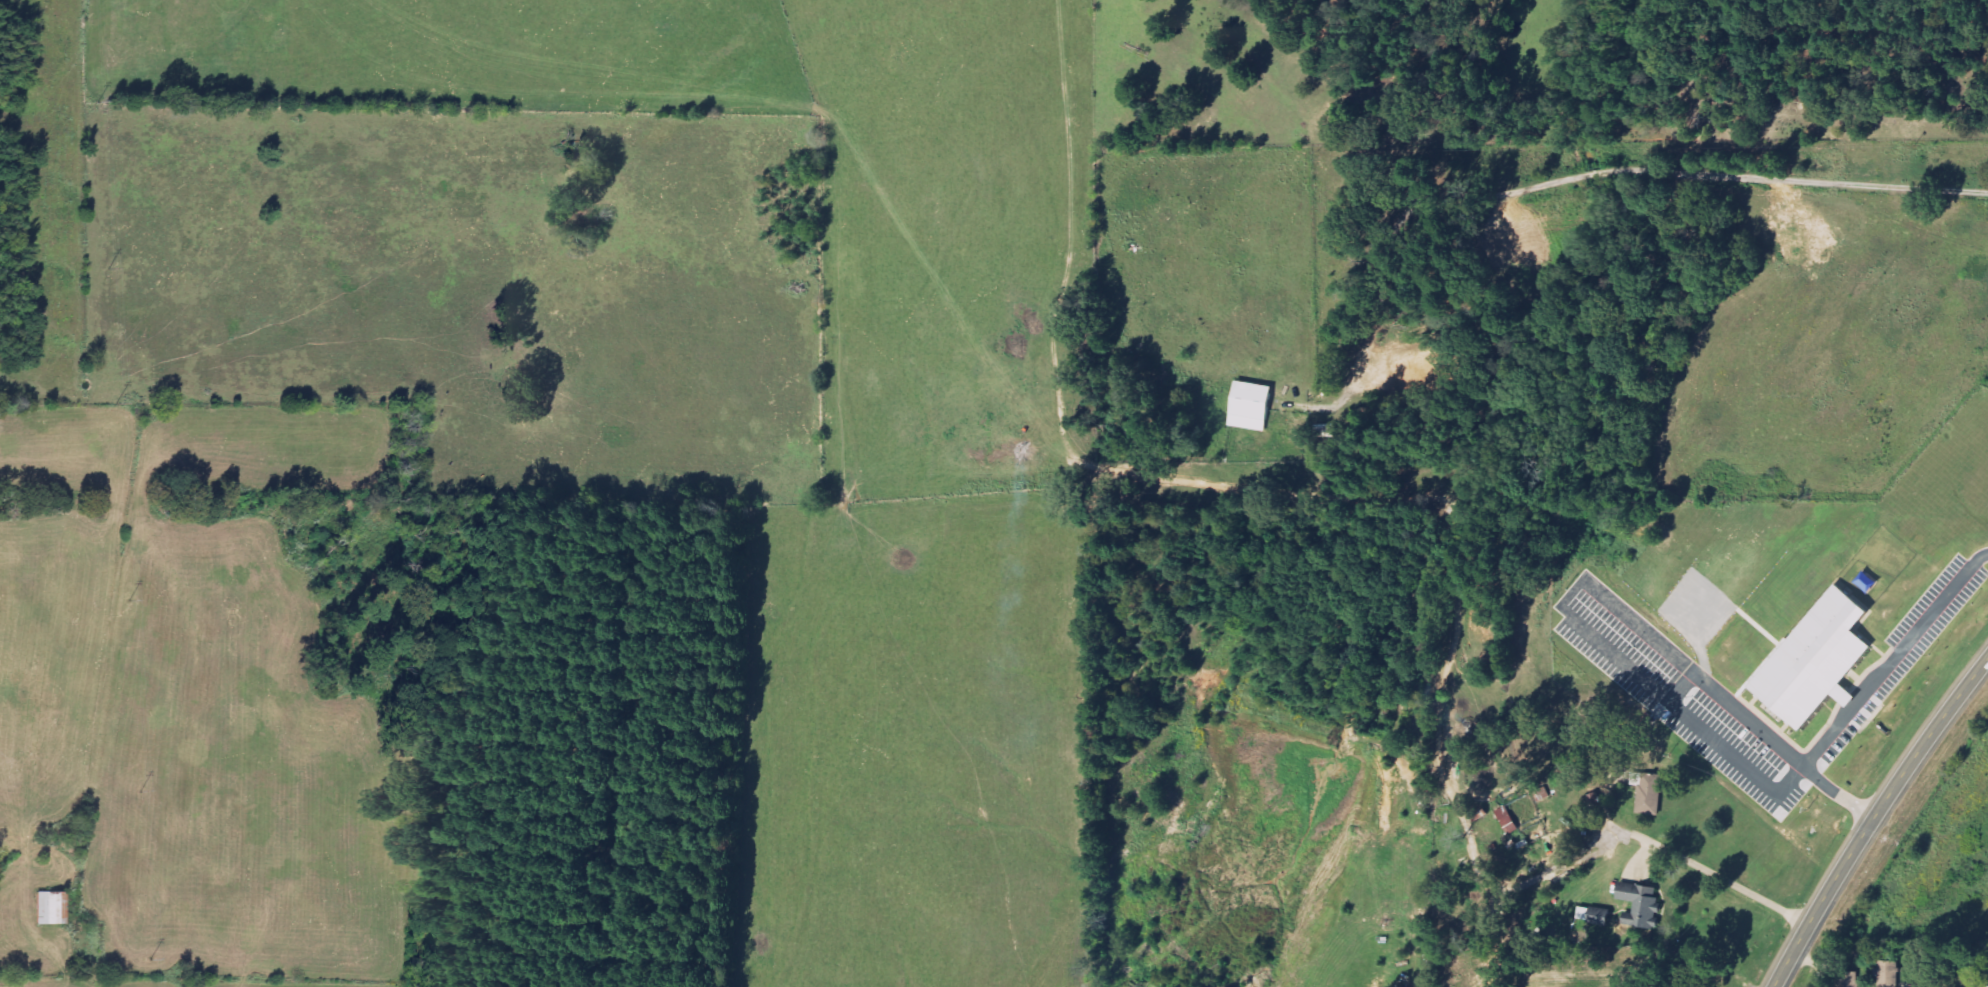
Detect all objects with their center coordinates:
building: (1439, 366)
building: (1254, 407)
building: (1326, 432)
building: (1821, 660)
building: (1651, 794)
road: (1884, 800)
building: (1509, 820)
building: (1643, 906)
building: (52, 908)
building: (1596, 915)
road: (1783, 969)
building: (1889, 974)
road: (1915, 974)

